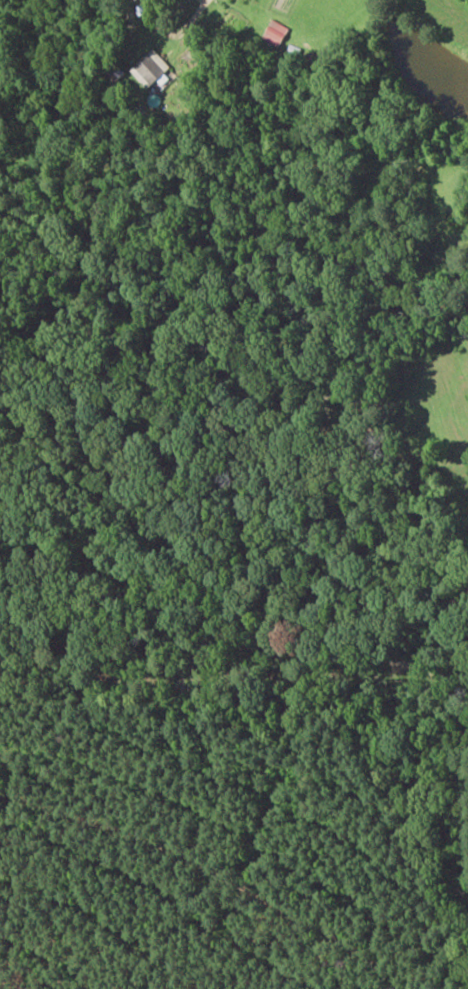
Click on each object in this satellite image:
building: (276, 33)
building: (152, 69)

